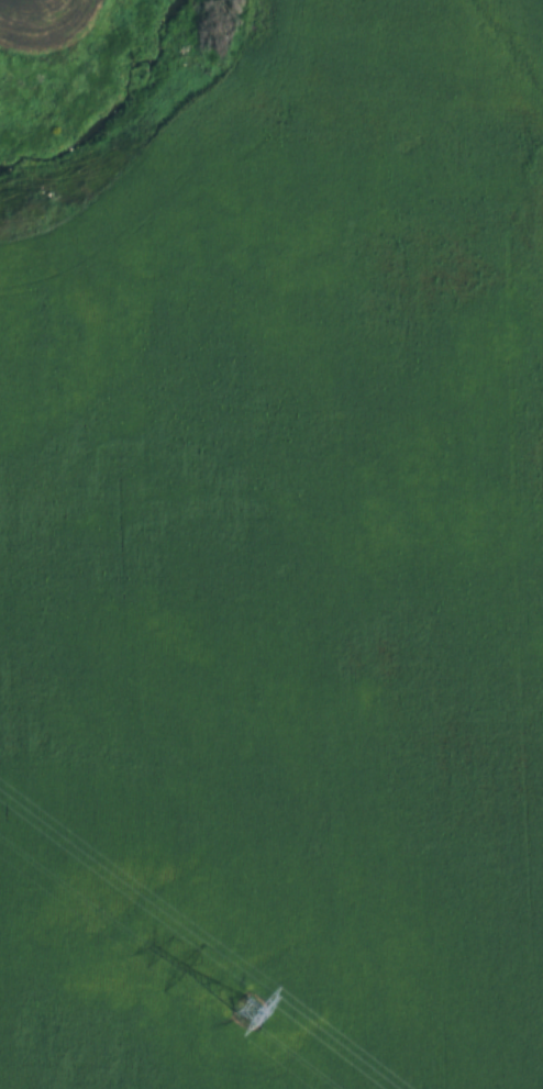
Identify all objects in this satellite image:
power tower: (248, 1014)

